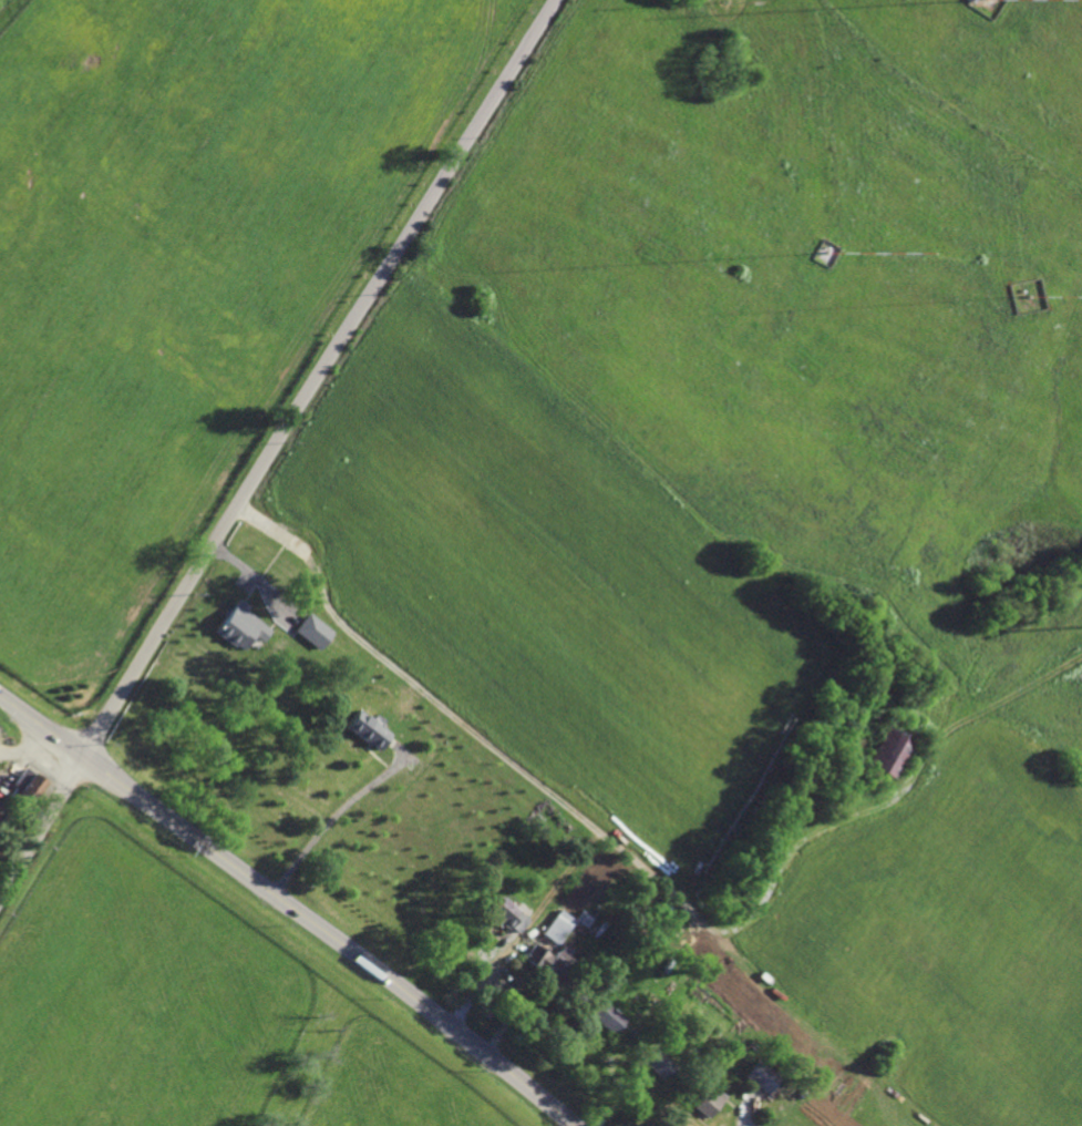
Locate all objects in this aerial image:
building: (971, 0)
road: (316, 378)
building: (237, 626)
building: (313, 629)
building: (398, 697)
building: (369, 728)
building: (886, 749)
building: (24, 787)
building: (7, 817)
road: (329, 819)
road: (41, 827)
road: (290, 907)
building: (509, 914)
building: (583, 918)
building: (558, 927)
building: (549, 968)
building: (643, 1010)
building: (607, 1016)
building: (668, 1033)
building: (659, 1063)
building: (762, 1076)
building: (803, 1093)
building: (709, 1101)
building: (775, 1101)

